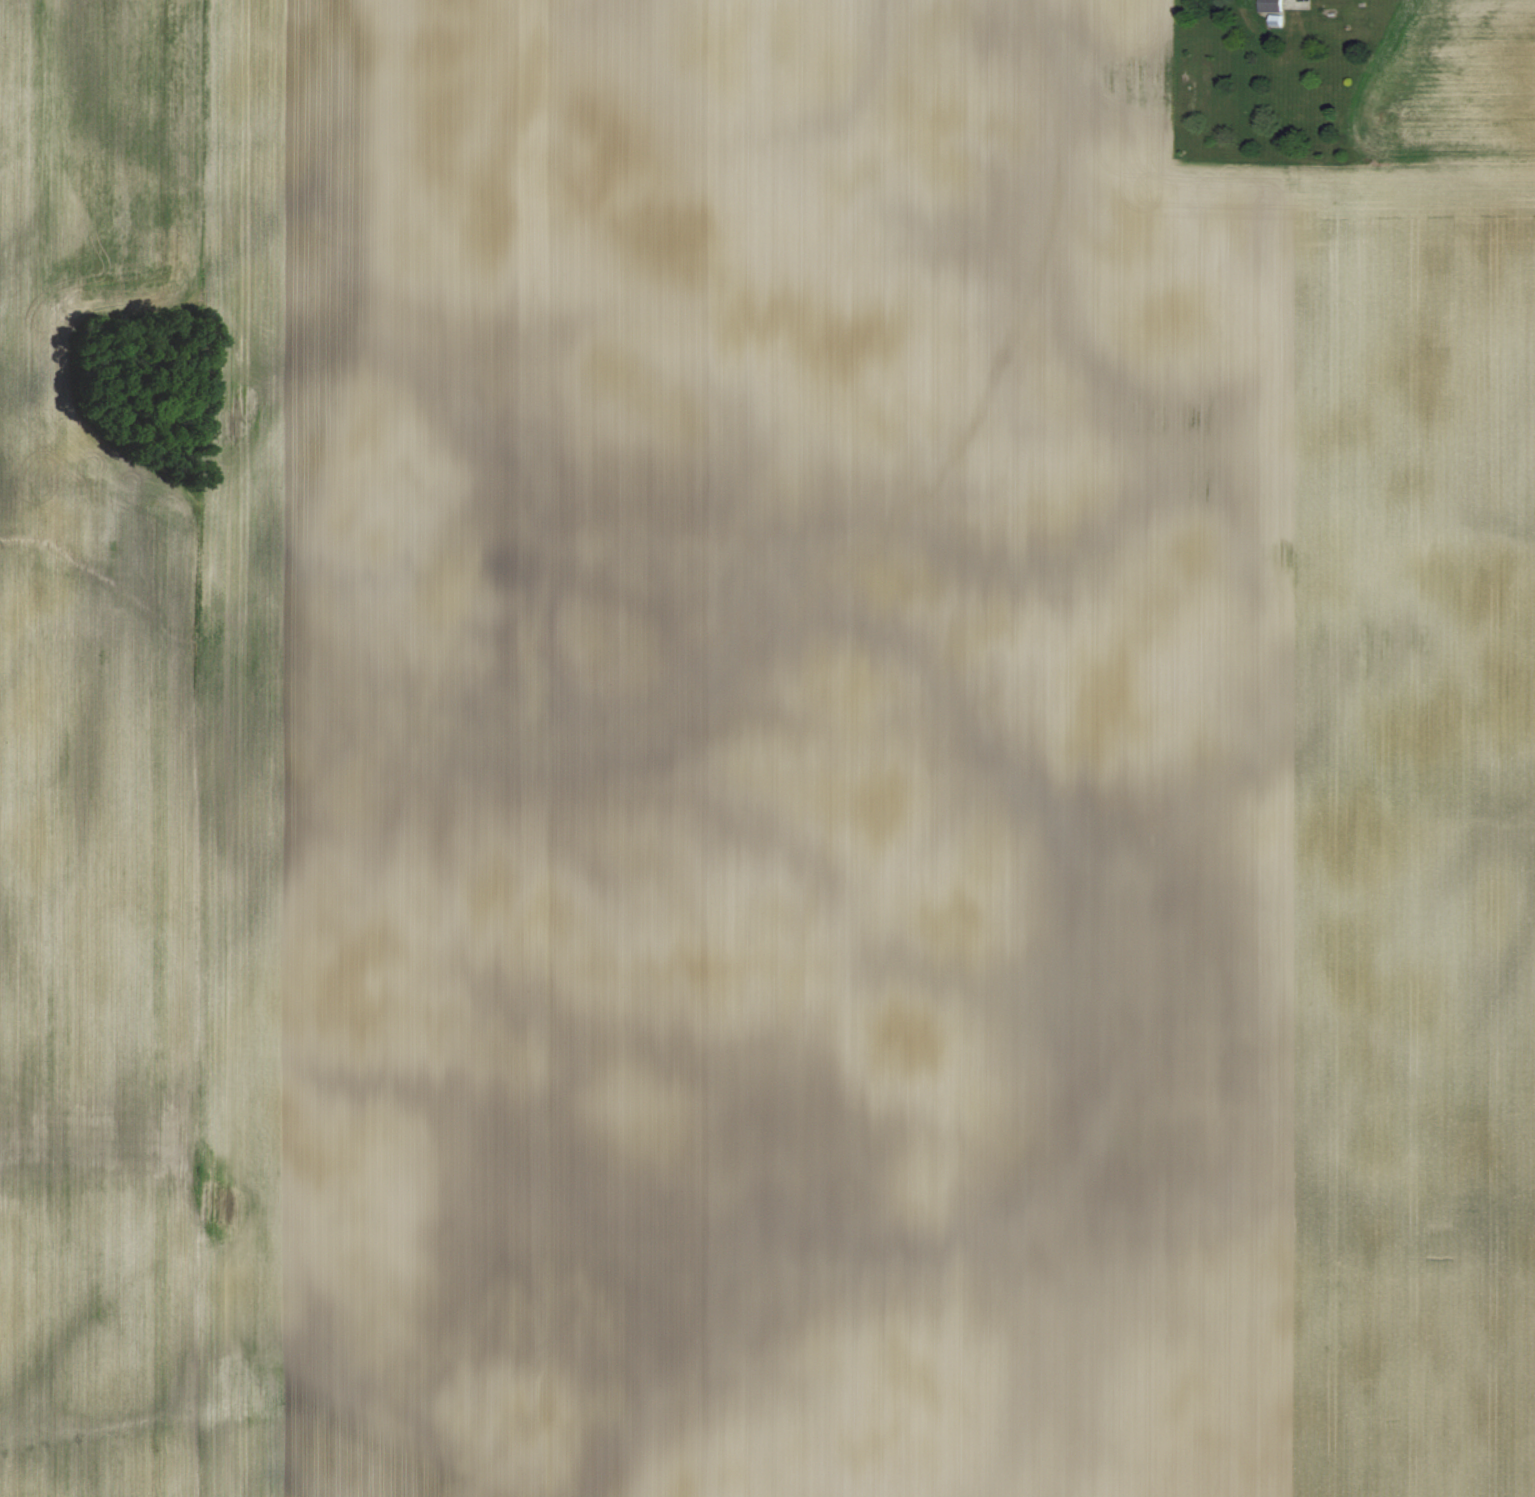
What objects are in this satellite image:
building: (1270, 5)

